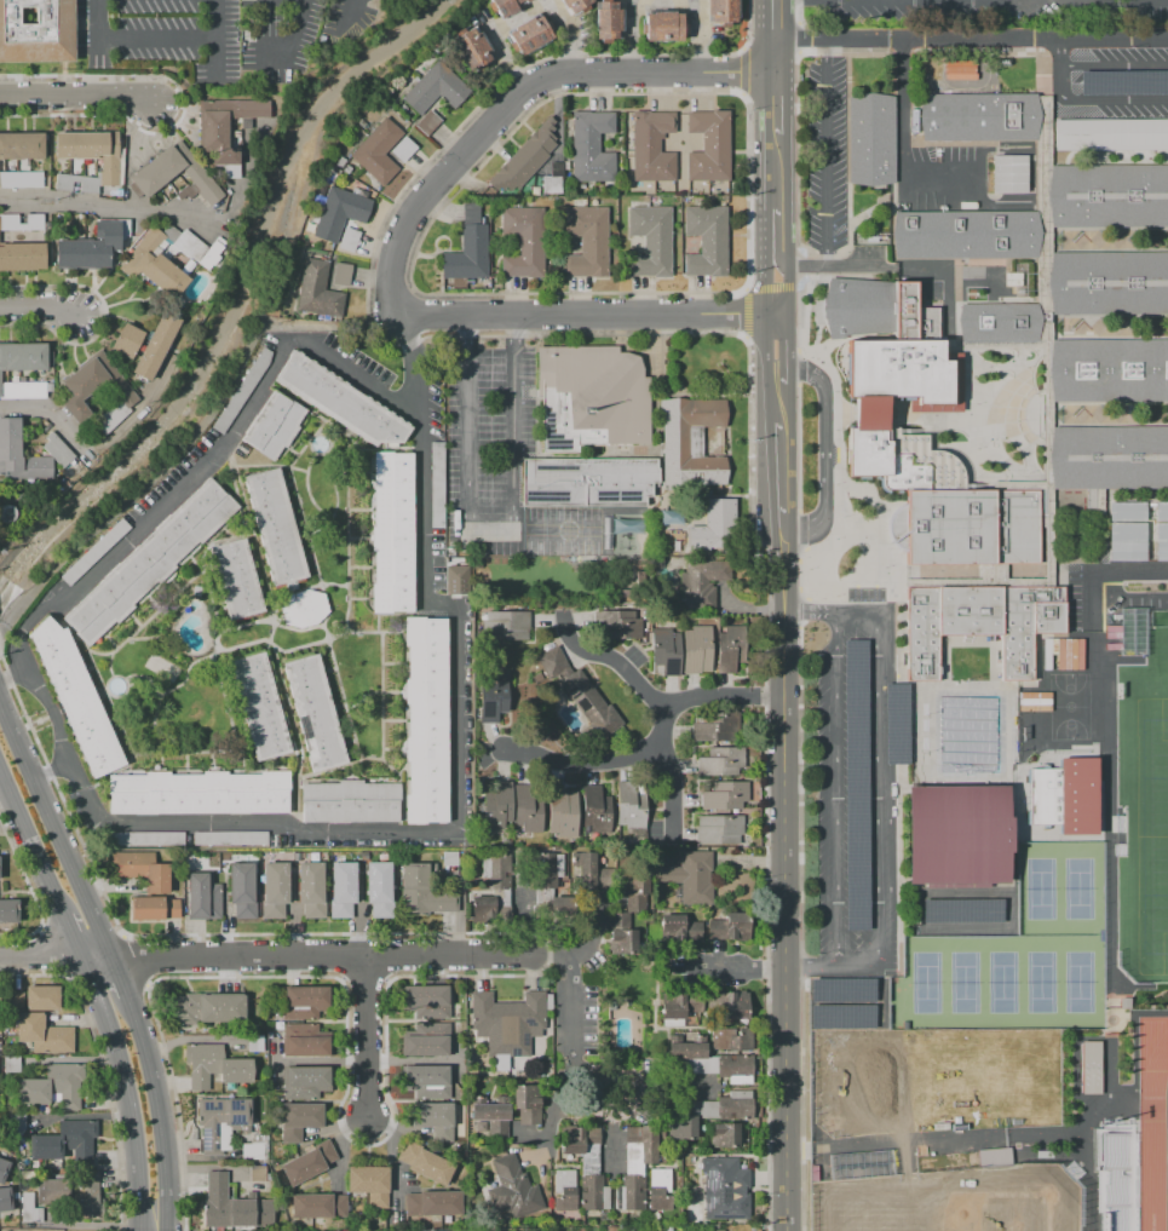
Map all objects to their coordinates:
building: (525, 0)
building: (519, 1)
building: (576, 5)
building: (504, 6)
road: (351, 8)
road: (527, 10)
building: (725, 12)
road: (773, 18)
building: (606, 22)
building: (663, 25)
road: (697, 29)
building: (38, 31)
road: (627, 33)
building: (529, 34)
road: (829, 36)
road: (1026, 36)
road: (155, 39)
road: (290, 44)
building: (471, 48)
road: (1059, 51)
road: (773, 54)
road: (215, 59)
road: (1114, 65)
parking lot: (1112, 76)
building: (1122, 81)
building: (435, 88)
road: (516, 96)
road: (77, 98)
road: (1095, 102)
road: (773, 110)
building: (361, 122)
building: (427, 122)
building: (225, 130)
building: (236, 133)
building: (1110, 134)
building: (870, 138)
road: (902, 142)
building: (21, 145)
building: (651, 145)
building: (708, 145)
building: (591, 146)
building: (403, 149)
road: (827, 149)
building: (376, 151)
parking lot: (827, 151)
building: (242, 153)
building: (87, 157)
building: (524, 157)
building: (340, 161)
building: (566, 166)
building: (346, 169)
building: (154, 173)
building: (1008, 173)
building: (334, 177)
building: (552, 178)
building: (351, 180)
road: (773, 180)
building: (8, 183)
building: (581, 186)
road: (156, 212)
building: (340, 212)
building: (8, 218)
road: (773, 237)
building: (347, 238)
building: (702, 238)
building: (650, 240)
building: (523, 241)
building: (587, 241)
building: (91, 246)
building: (197, 248)
building: (467, 254)
building: (22, 257)
road: (891, 264)
building: (153, 265)
building: (341, 275)
building: (1017, 280)
road: (787, 286)
building: (315, 291)
road: (38, 309)
road: (591, 317)
road: (764, 324)
building: (127, 340)
building: (155, 346)
road: (786, 353)
building: (24, 356)
road: (413, 367)
building: (1105, 368)
building: (93, 385)
building: (22, 389)
building: (238, 395)
building: (591, 397)
building: (340, 401)
road: (777, 404)
building: (274, 426)
building: (675, 437)
road: (94, 449)
building: (57, 450)
road: (824, 451)
building: (18, 454)
road: (779, 470)
building: (591, 483)
building: (436, 485)
building: (1127, 511)
building: (1161, 511)
road: (487, 524)
building: (715, 525)
building: (275, 528)
building: (392, 533)
building: (1127, 541)
building: (1161, 542)
building: (94, 552)
building: (150, 560)
road: (1097, 568)
building: (236, 579)
building: (455, 579)
building: (700, 582)
building: (625, 592)
parking lot: (1077, 597)
road: (1128, 597)
building: (306, 611)
road: (455, 614)
building: (506, 625)
building: (623, 626)
building: (732, 646)
building: (695, 650)
building: (666, 651)
park: (1160, 654)
building: (552, 662)
road: (17, 675)
building: (494, 692)
building: (75, 697)
road: (656, 703)
building: (259, 706)
park: (1069, 706)
building: (591, 707)
building: (313, 713)
building: (430, 721)
building: (896, 723)
building: (719, 726)
road: (651, 741)
road: (876, 742)
building: (720, 761)
road: (53, 770)
road: (888, 772)
parking lot: (845, 783)
building: (856, 784)
road: (835, 789)
building: (198, 793)
road: (59, 794)
building: (724, 795)
building: (1064, 795)
building: (349, 801)
building: (496, 805)
building: (633, 806)
building: (527, 809)
building: (595, 810)
building: (563, 812)
building: (718, 829)
road: (57, 833)
building: (956, 835)
park: (1152, 835)
building: (230, 838)
building: (148, 839)
road: (33, 841)
building: (516, 855)
building: (449, 857)
building: (496, 869)
building: (550, 869)
building: (142, 870)
building: (598, 872)
road: (788, 874)
road: (24, 875)
building: (690, 876)
building: (638, 886)
park: (1080, 887)
building: (241, 888)
park: (1041, 888)
building: (311, 890)
building: (343, 890)
building: (379, 890)
building: (275, 891)
building: (424, 891)
building: (202, 896)
building: (154, 908)
building: (482, 909)
building: (563, 909)
building: (8, 910)
building: (962, 910)
building: (730, 926)
building: (679, 928)
building: (621, 933)
road: (123, 934)
road: (74, 936)
road: (587, 938)
road: (1111, 940)
road: (61, 951)
park: (1017, 954)
road: (322, 955)
road: (41, 956)
road: (98, 956)
road: (128, 965)
road: (749, 968)
road: (834, 968)
road: (120, 977)
park: (1041, 982)
park: (1080, 982)
park: (926, 983)
park: (965, 983)
park: (1002, 983)
building: (841, 989)
building: (41, 997)
building: (425, 1000)
building: (13, 1001)
building: (305, 1001)
building: (550, 1002)
building: (730, 1006)
building: (209, 1007)
building: (681, 1007)
building: (841, 1016)
building: (269, 1017)
building: (507, 1024)
road: (569, 1025)
building: (42, 1034)
building: (269, 1035)
road: (362, 1037)
building: (731, 1037)
building: (426, 1040)
building: (305, 1041)
building: (255, 1043)
road: (1135, 1046)
building: (691, 1048)
building: (213, 1065)
building: (737, 1068)
building: (1091, 1068)
building: (427, 1080)
park: (934, 1080)
building: (305, 1082)
building: (52, 1086)
building: (242, 1087)
road: (662, 1089)
road: (127, 1091)
road: (107, 1100)
building: (523, 1105)
building: (735, 1105)
road: (176, 1106)
road: (161, 1112)
building: (490, 1114)
building: (433, 1118)
building: (298, 1120)
road: (553, 1120)
building: (220, 1122)
road: (1153, 1124)
track: (1153, 1124)
building: (479, 1126)
building: (681, 1127)
road: (615, 1128)
building: (721, 1134)
building: (579, 1138)
road: (937, 1138)
building: (645, 1140)
building: (65, 1143)
building: (255, 1149)
building: (997, 1158)
building: (309, 1162)
building: (425, 1162)
building: (864, 1166)
building: (4, 1169)
building: (257, 1173)
building: (1117, 1175)
building: (369, 1184)
building: (511, 1187)
building: (564, 1189)
building: (658, 1189)
building: (725, 1189)
building: (593, 1192)
building: (629, 1192)
building: (73, 1193)
building: (7, 1201)
park: (953, 1201)
building: (432, 1202)
building: (317, 1204)
building: (232, 1206)
building: (29, 1209)
building: (616, 1229)
building: (668, 1229)
building: (720, 1230)
building: (743, 1230)

